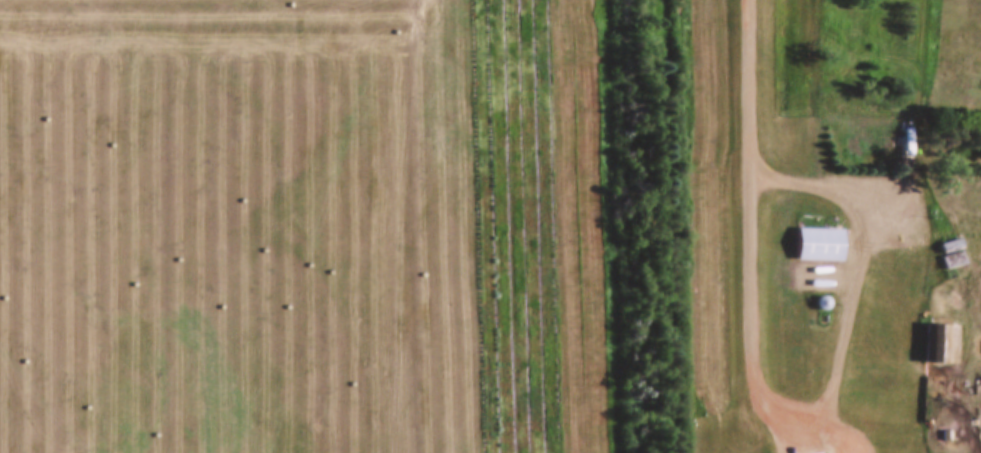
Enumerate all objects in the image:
road: (816, 117)
building: (893, 121)
building: (822, 232)
building: (955, 243)
building: (827, 266)
building: (944, 333)
building: (827, 452)

